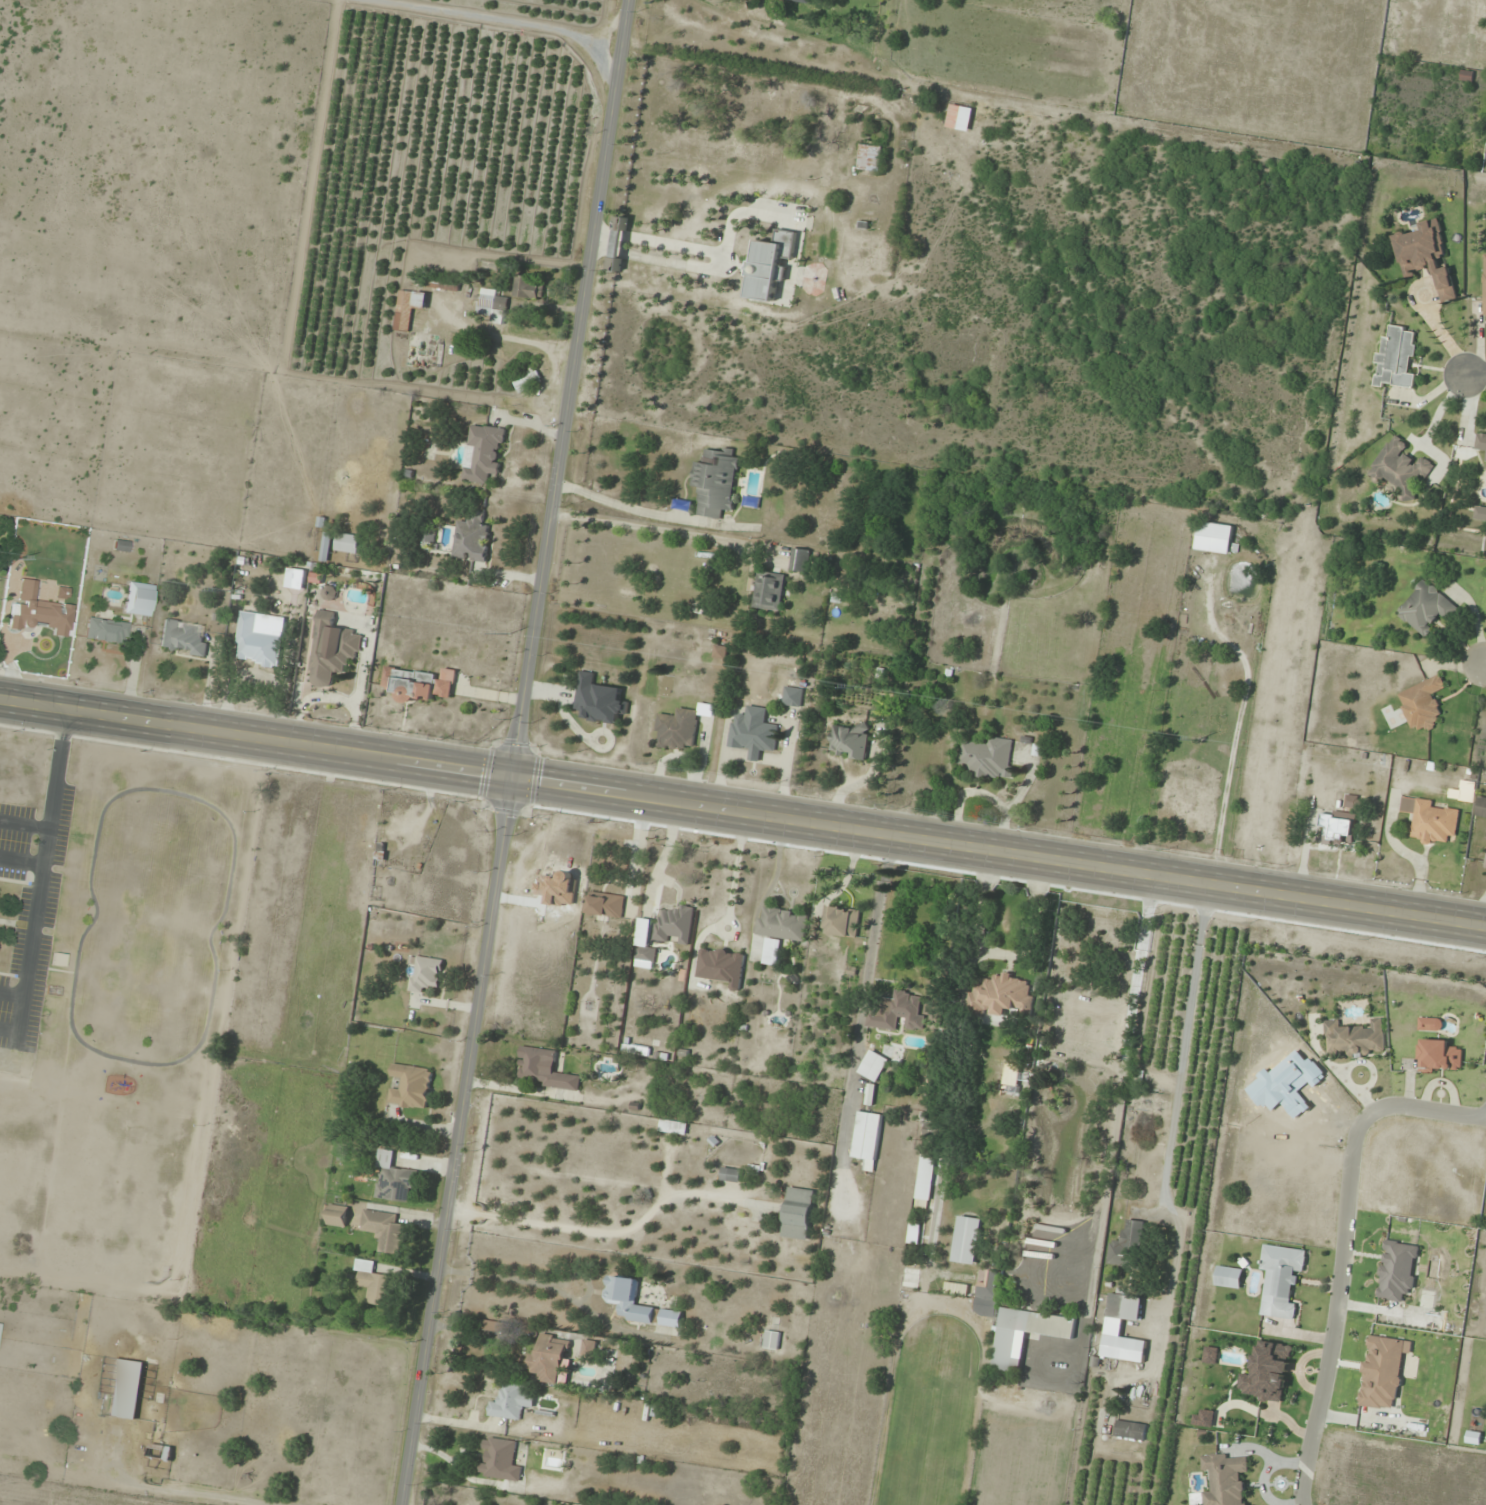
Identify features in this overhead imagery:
building: (798, 1)
building: (959, 118)
building: (870, 157)
building: (619, 244)
building: (1427, 257)
building: (879, 258)
building: (770, 264)
building: (444, 283)
building: (1484, 284)
building: (527, 287)
building: (493, 305)
building: (409, 308)
building: (1396, 359)
road: (1475, 375)
building: (528, 382)
building: (1481, 442)
building: (483, 453)
building: (1400, 469)
building: (1485, 470)
building: (716, 481)
building: (1480, 513)
building: (429, 536)
building: (473, 538)
building: (1214, 538)
building: (348, 543)
building: (120, 545)
building: (800, 559)
building: (770, 591)
building: (141, 599)
building: (1427, 608)
building: (106, 630)
building: (183, 638)
building: (258, 642)
building: (332, 650)
road: (1485, 666)
building: (419, 684)
building: (793, 696)
building: (600, 700)
building: (1422, 704)
building: (677, 730)
building: (754, 733)
road: (255, 735)
building: (849, 740)
road: (514, 752)
building: (988, 759)
traffic signals: (511, 772)
building: (1481, 807)
building: (1432, 820)
building: (1338, 828)
road: (998, 848)
building: (1485, 866)
building: (606, 905)
building: (843, 922)
building: (675, 926)
building: (781, 929)
building: (643, 940)
building: (722, 966)
building: (426, 974)
building: (1001, 995)
building: (899, 1013)
building: (1354, 1039)
building: (878, 1063)
building: (544, 1069)
building: (411, 1087)
road: (1422, 1108)
building: (674, 1127)
building: (867, 1137)
building: (731, 1175)
building: (393, 1178)
building: (925, 1181)
building: (798, 1213)
building: (338, 1215)
building: (385, 1230)
building: (967, 1240)
building: (1128, 1245)
building: (1229, 1278)
building: (1282, 1280)
building: (374, 1282)
building: (622, 1291)
building: (1125, 1307)
road: (1336, 1308)
building: (0, 1325)
building: (494, 1328)
building: (772, 1340)
building: (589, 1348)
building: (1006, 1348)
building: (1124, 1349)
building: (550, 1359)
building: (1268, 1372)
building: (126, 1389)
building: (511, 1403)
building: (1131, 1431)
building: (160, 1452)
building: (500, 1460)
building: (1224, 1481)
road: (1302, 1501)

